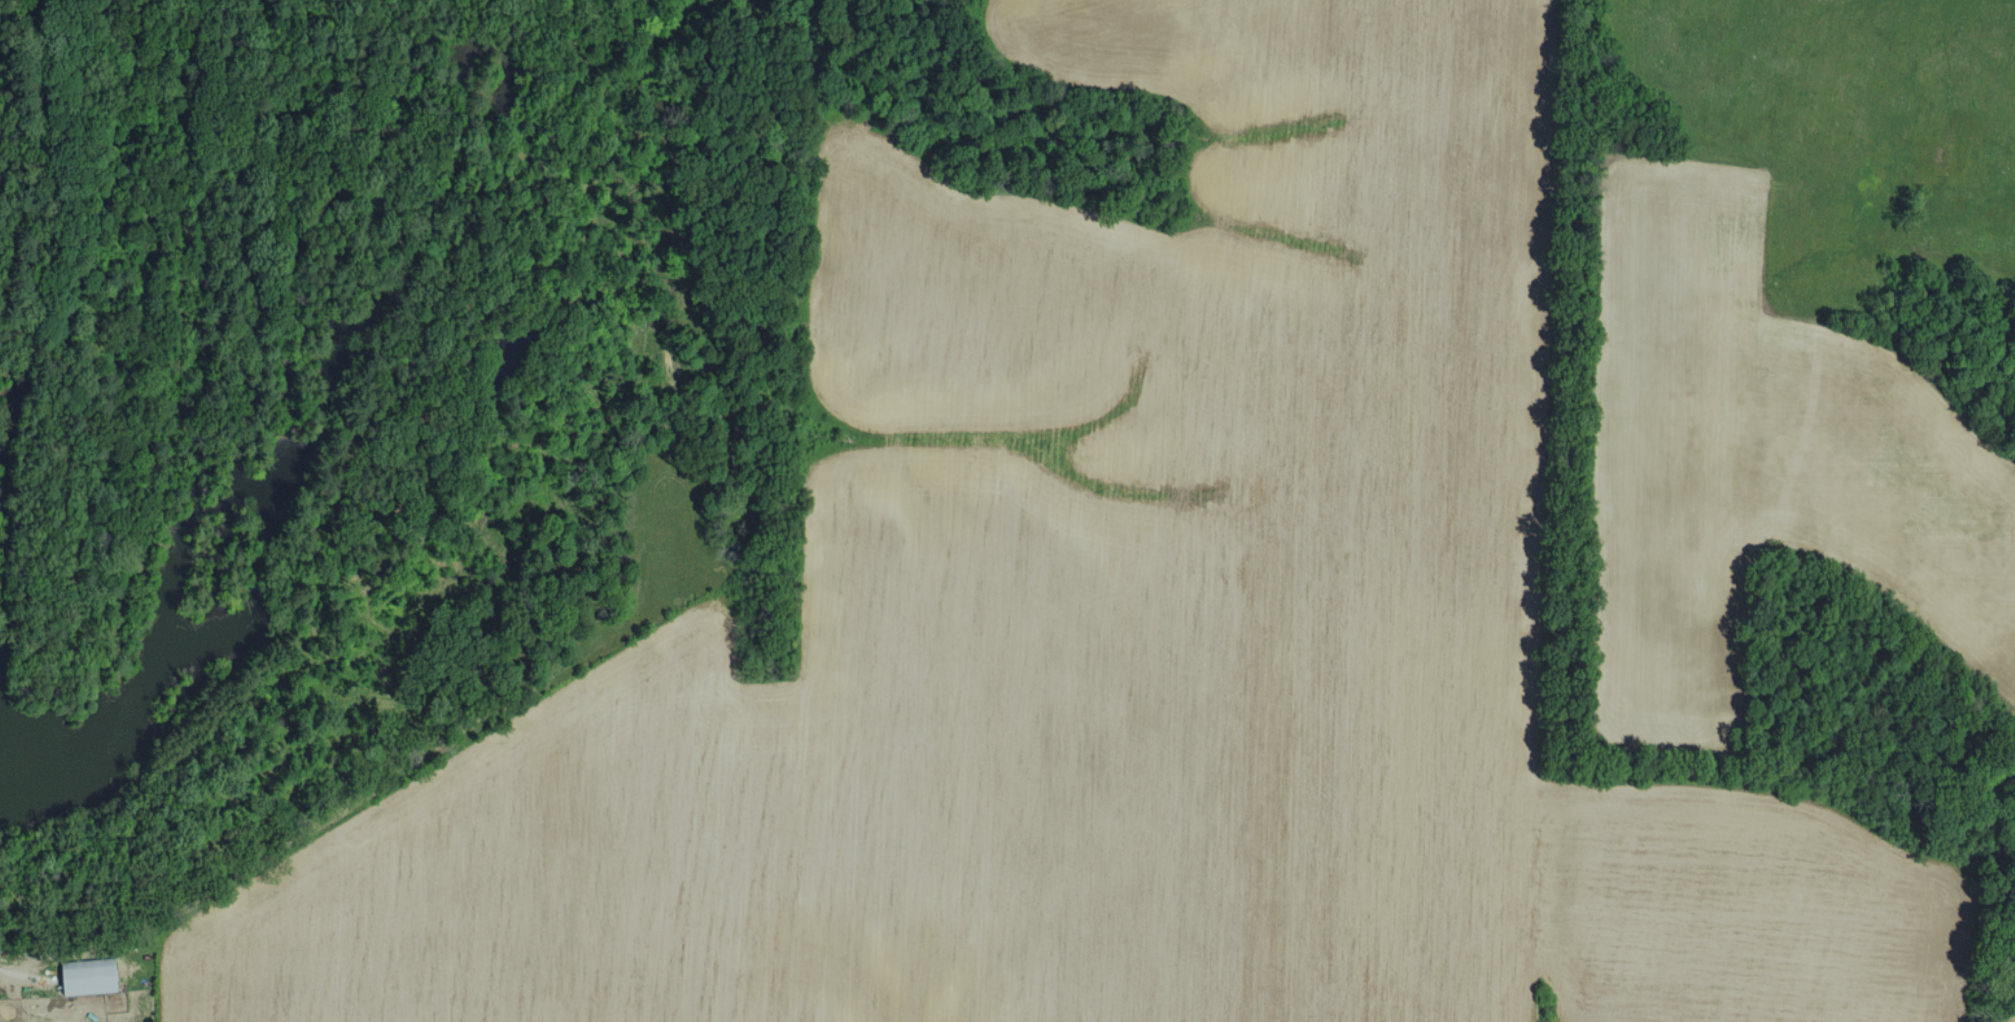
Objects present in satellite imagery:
building: (94, 976)

